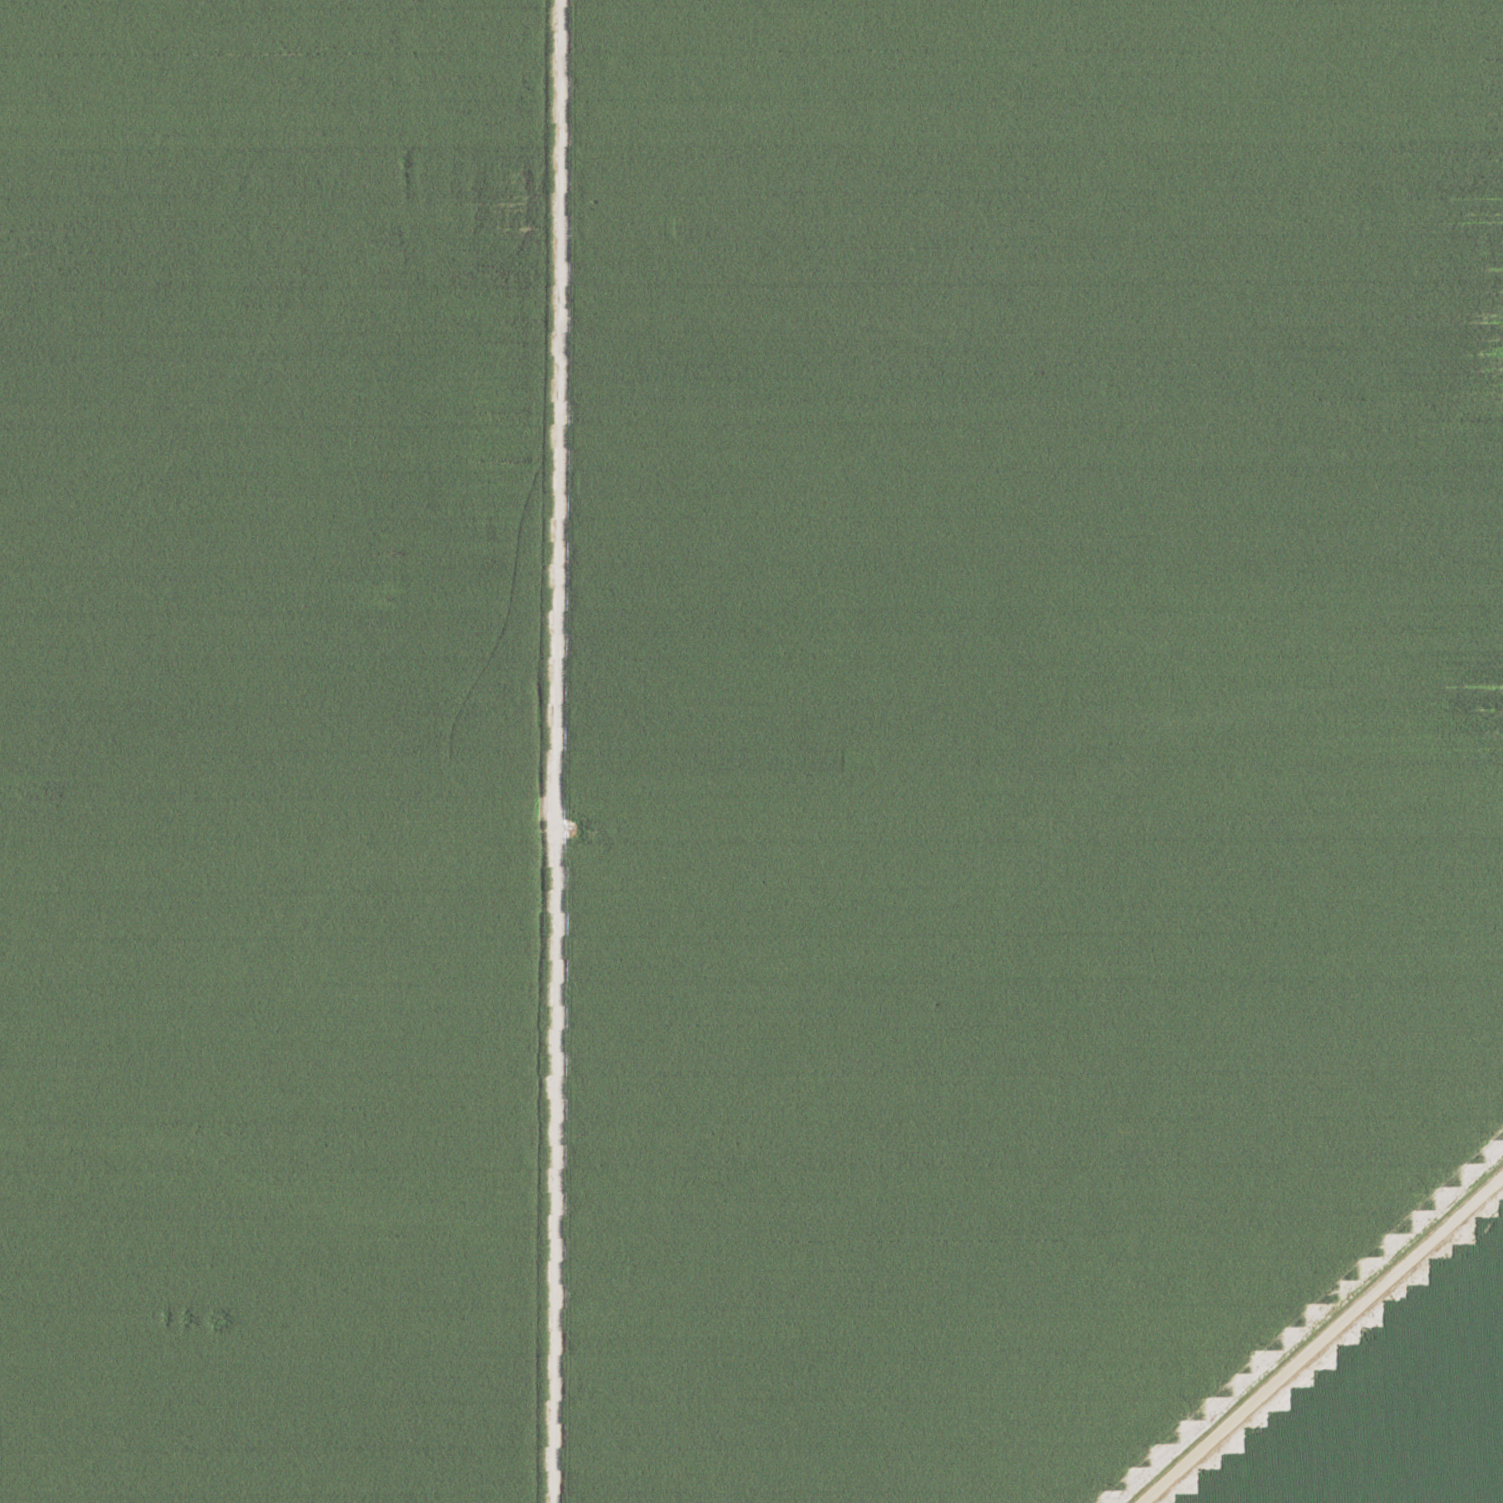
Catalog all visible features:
road: (1319, 1335)

